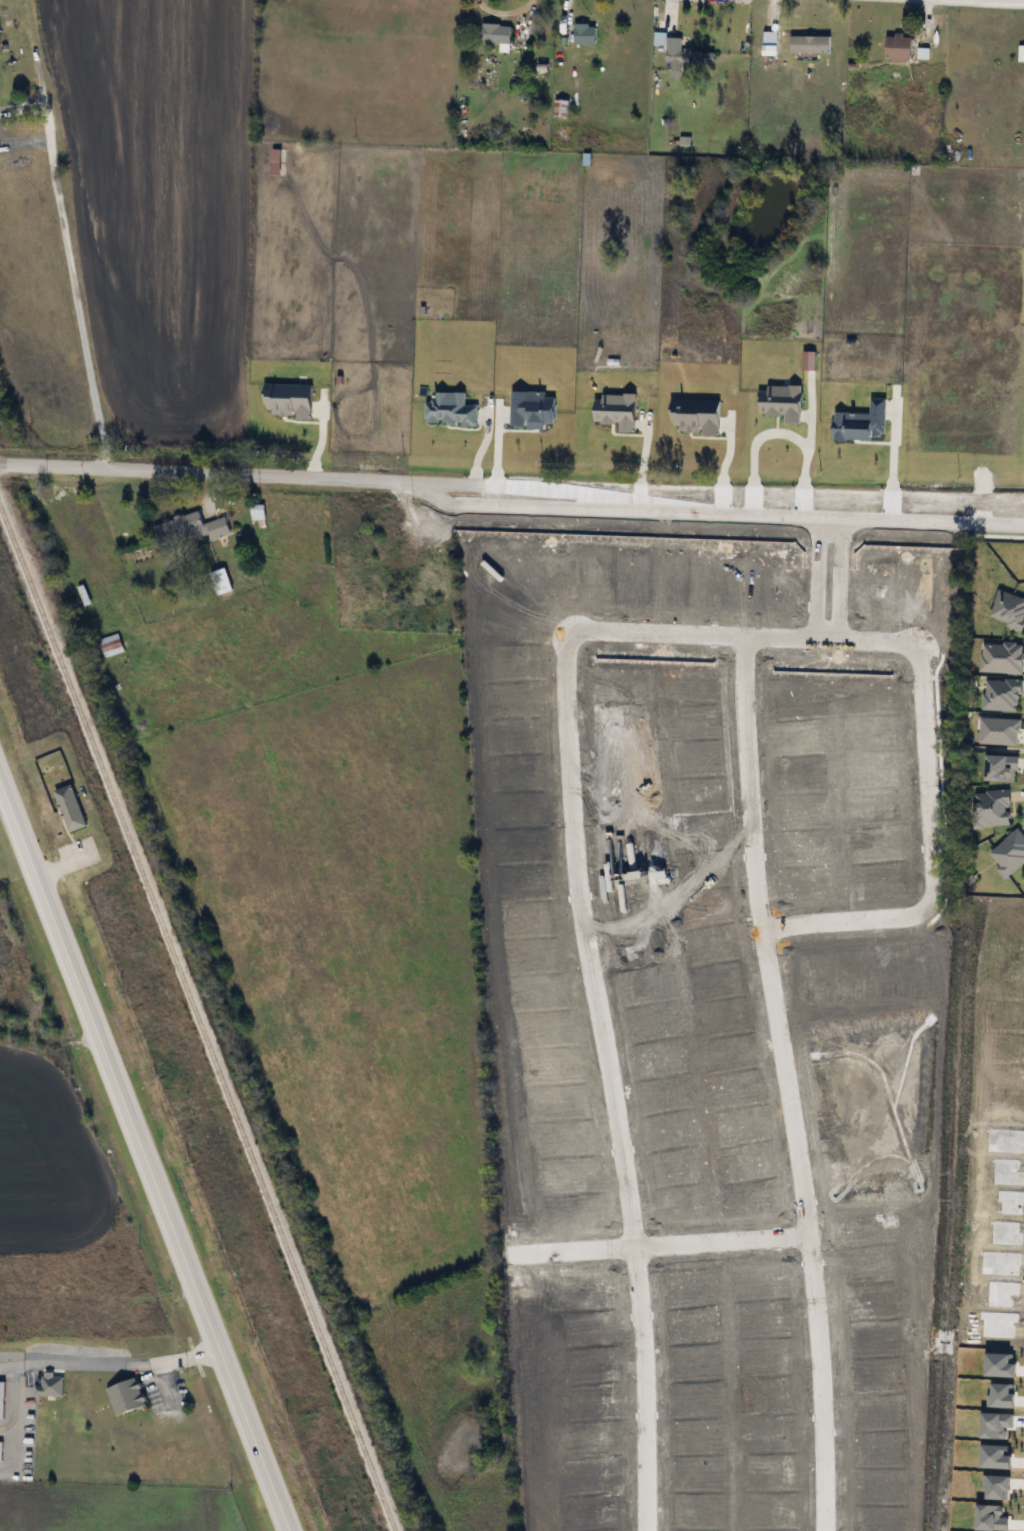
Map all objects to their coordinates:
building: (496, 32)
building: (585, 33)
building: (810, 43)
building: (899, 48)
building: (771, 49)
building: (1021, 53)
building: (686, 55)
building: (802, 82)
building: (561, 108)
road: (75, 296)
road: (778, 428)
road: (512, 485)
building: (258, 515)
building: (189, 528)
road: (816, 574)
road: (837, 575)
building: (220, 581)
road: (746, 633)
building: (110, 645)
building: (827, 690)
building: (930, 752)
road: (930, 778)
building: (70, 808)
road: (850, 922)
railway: (196, 1019)
road: (608, 1079)
road: (788, 1081)
road: (144, 1160)
road: (659, 1243)
road: (118, 1364)
road: (8, 1366)
building: (49, 1386)
building: (127, 1396)
building: (1, 1398)
road: (16, 1401)

